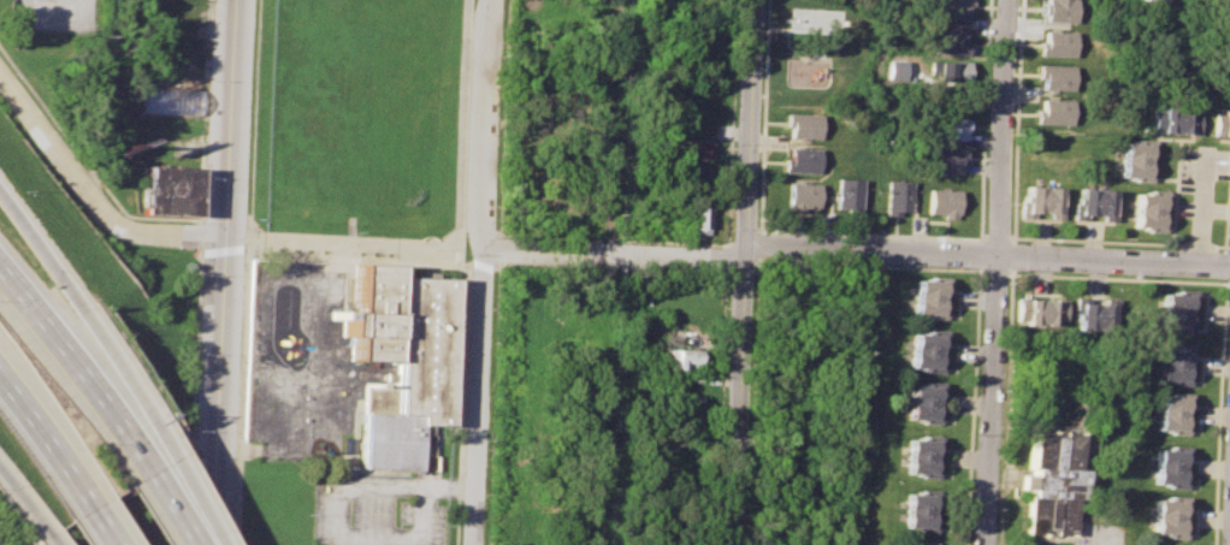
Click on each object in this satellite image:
building: (1207, 1)
building: (1149, 2)
road: (57, 8)
building: (953, 8)
building: (1060, 10)
parking lot: (57, 14)
building: (808, 18)
building: (950, 38)
building: (1058, 43)
building: (953, 72)
building: (1057, 75)
building: (1054, 111)
building: (1171, 119)
building: (1220, 120)
building: (805, 125)
building: (956, 130)
building: (693, 148)
building: (1134, 159)
building: (802, 160)
building: (945, 161)
building: (171, 190)
road: (91, 194)
building: (803, 194)
building: (847, 195)
building: (893, 200)
building: (944, 201)
building: (1041, 201)
building: (1094, 203)
road: (1199, 206)
building: (1149, 208)
building: (697, 220)
road: (489, 253)
road: (989, 255)
road: (230, 272)
road: (486, 272)
road: (747, 272)
road: (994, 272)
road: (997, 272)
building: (929, 297)
road: (70, 300)
road: (1225, 303)
building: (1041, 310)
building: (1178, 310)
building: (1098, 313)
road: (58, 342)
building: (926, 353)
building: (680, 357)
building: (1177, 362)
park: (292, 363)
building: (398, 363)
road: (972, 403)
building: (927, 404)
building: (1177, 411)
road: (43, 443)
road: (135, 445)
building: (923, 458)
building: (1173, 466)
building: (1053, 481)
road: (11, 482)
road: (450, 488)
road: (336, 496)
road: (177, 509)
building: (922, 509)
parking lot: (380, 510)
building: (1171, 515)
road: (422, 517)
road: (39, 520)
road: (97, 525)
parking lot: (1101, 533)
building: (918, 544)

